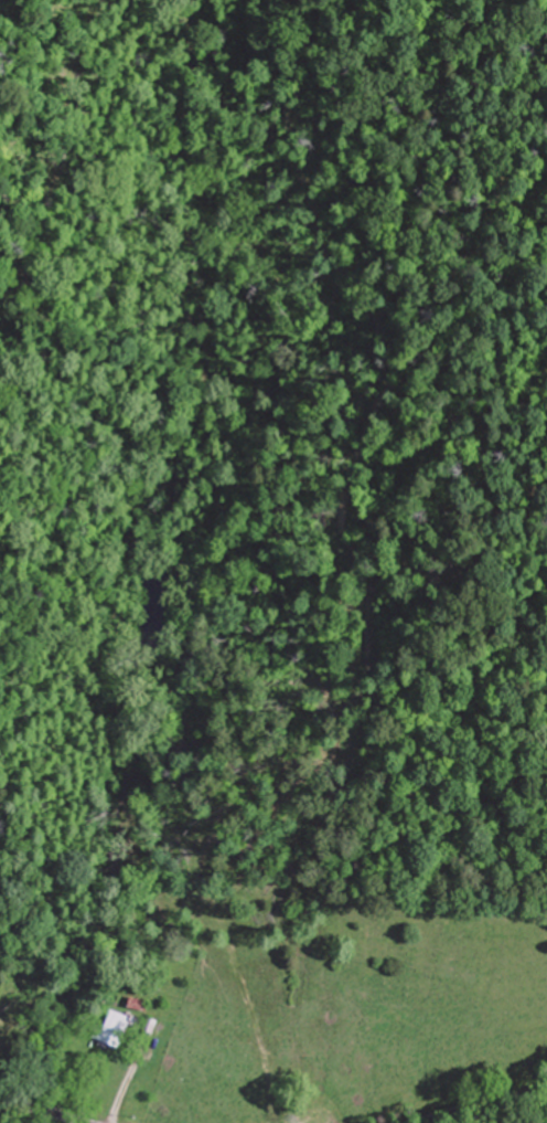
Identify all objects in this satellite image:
building: (118, 1027)
building: (154, 1028)
road: (475, 1103)
road: (45, 1111)

